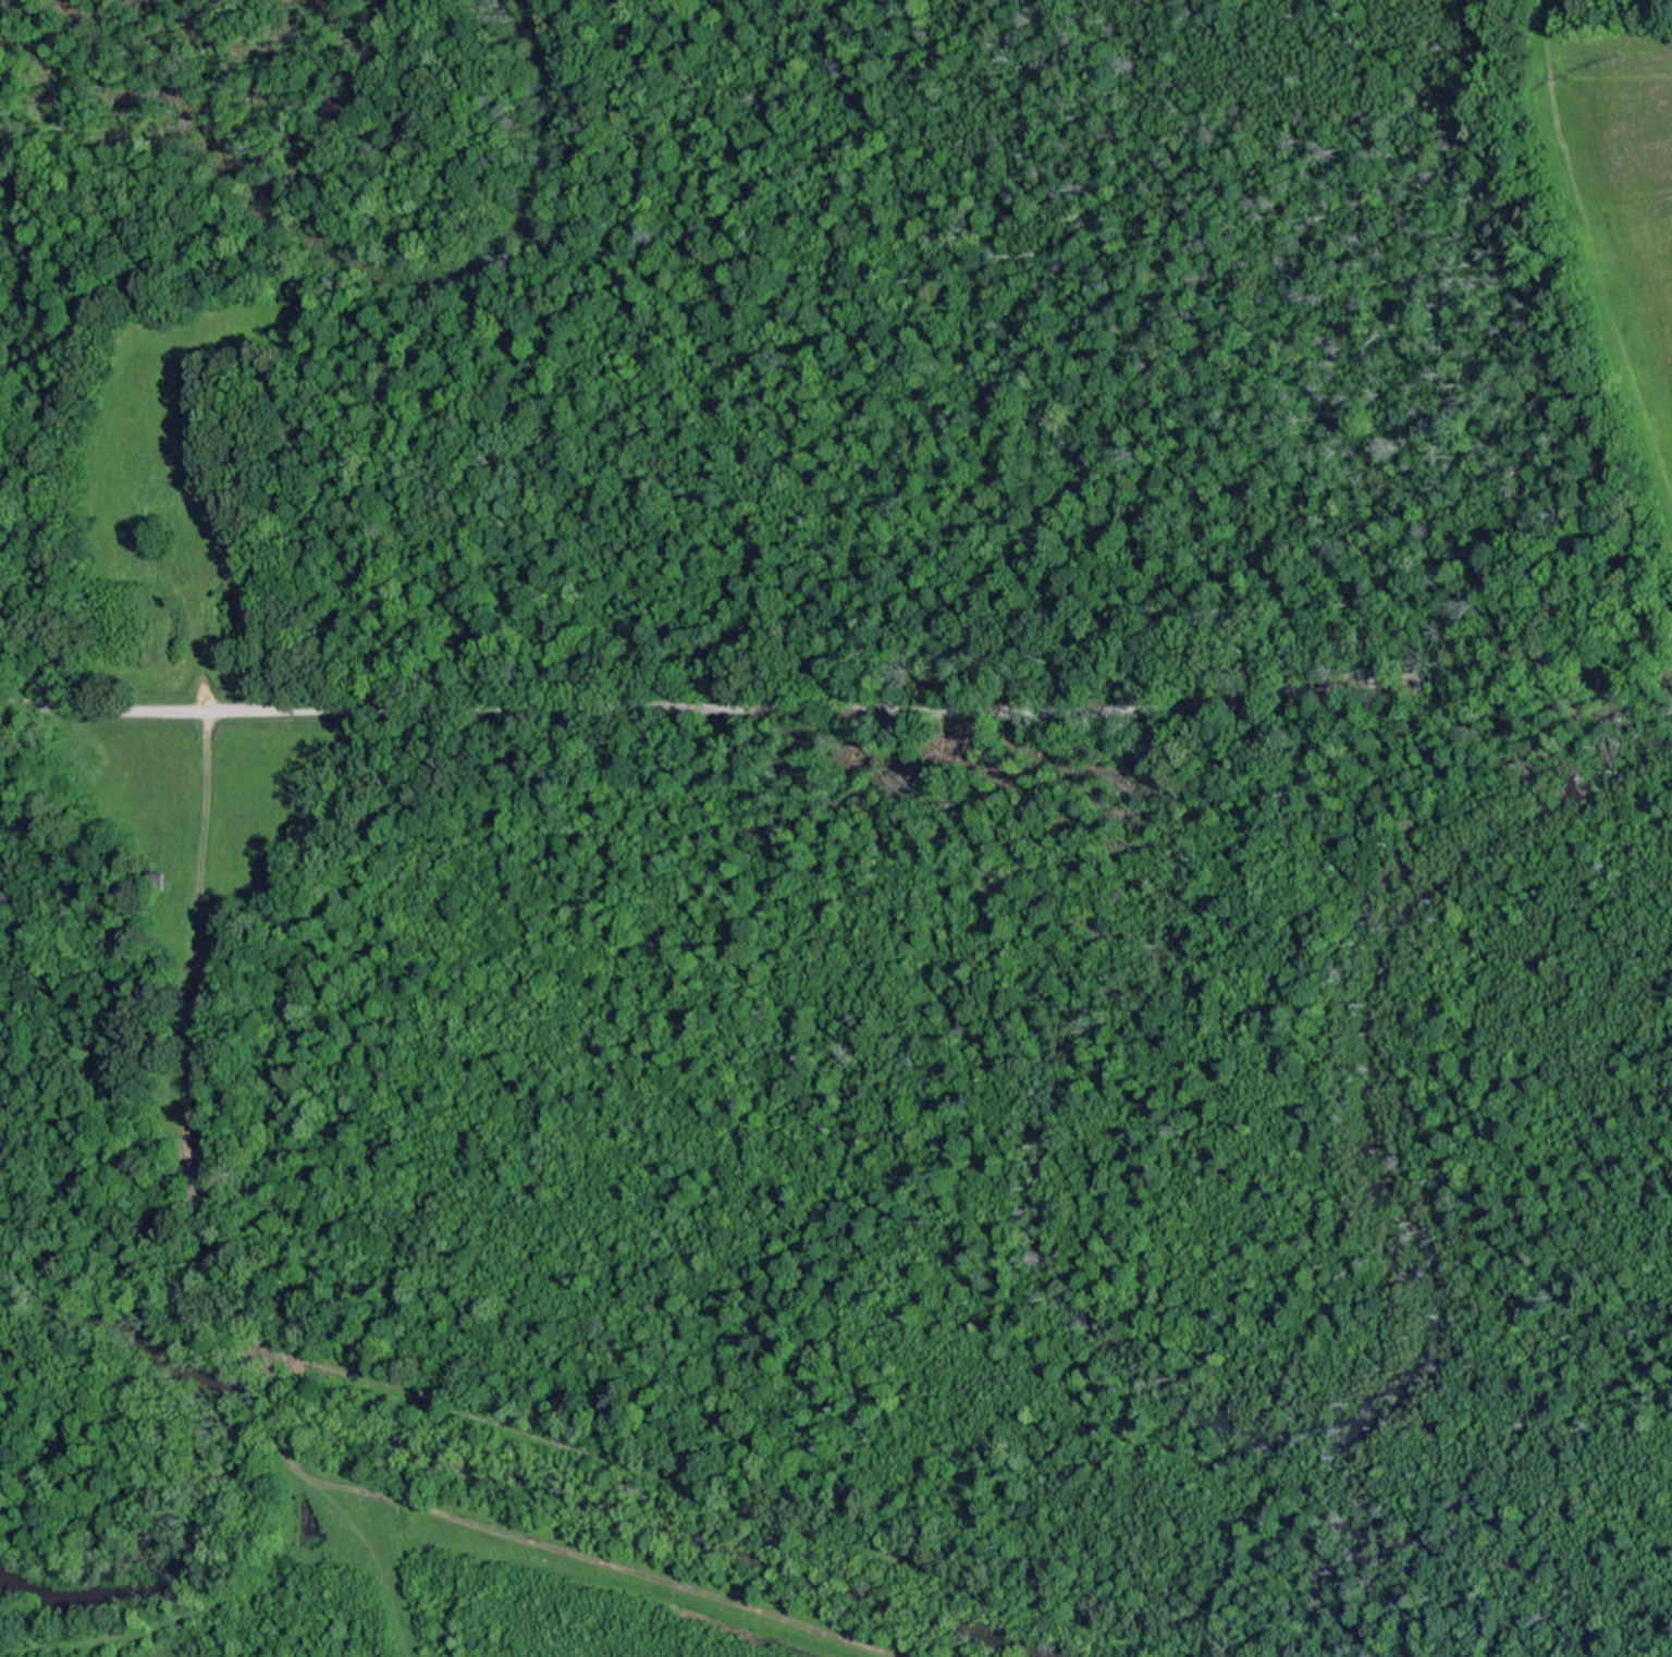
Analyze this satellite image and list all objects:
road: (1557, 322)
road: (838, 714)
road: (322, 1187)

